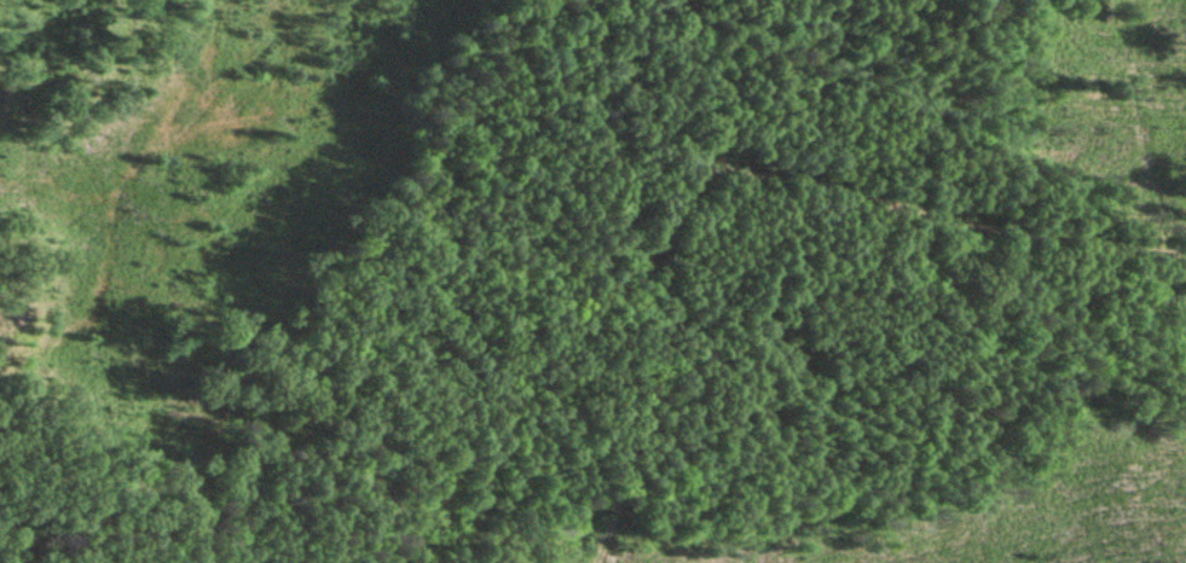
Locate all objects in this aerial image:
road: (953, 215)
road: (669, 349)

